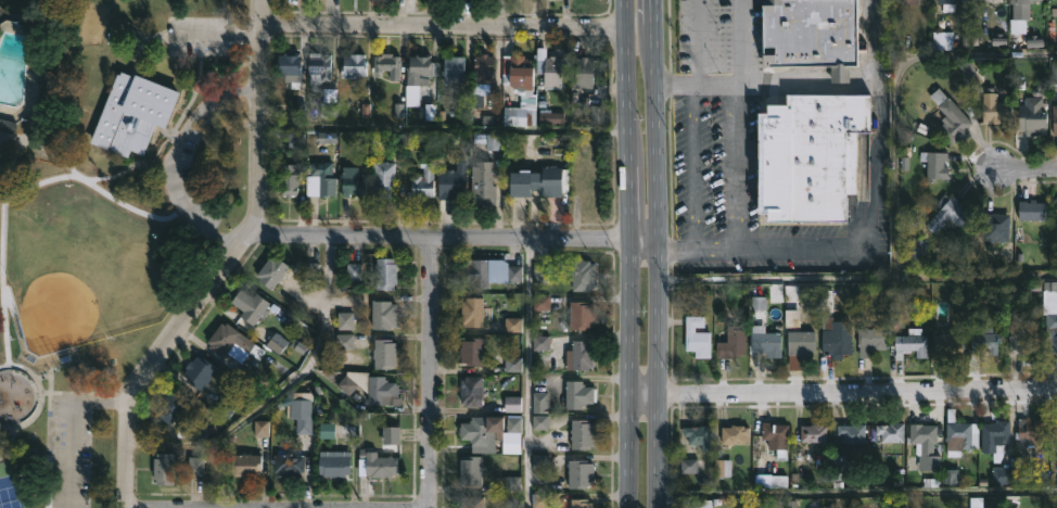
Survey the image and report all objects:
building: (990, 0)
building: (912, 1)
building: (951, 3)
building: (1021, 9)
road: (444, 25)
parking lot: (200, 35)
building: (813, 35)
road: (215, 36)
road: (737, 40)
road: (1030, 55)
building: (386, 64)
road: (697, 64)
building: (353, 65)
building: (319, 66)
building: (289, 67)
building: (483, 67)
building: (456, 68)
building: (549, 68)
road: (864, 69)
building: (583, 71)
building: (518, 73)
building: (418, 75)
road: (235, 76)
road: (841, 76)
road: (808, 77)
road: (53, 79)
road: (741, 80)
building: (996, 107)
building: (133, 113)
building: (548, 114)
building: (1034, 114)
building: (520, 115)
building: (952, 117)
road: (263, 118)
building: (7, 125)
building: (1054, 125)
road: (157, 129)
road: (445, 130)
building: (494, 142)
building: (811, 154)
parking lot: (175, 161)
building: (934, 164)
road: (735, 165)
road: (170, 166)
road: (1019, 166)
road: (692, 167)
building: (1, 173)
building: (290, 179)
building: (323, 179)
building: (384, 179)
building: (424, 180)
building: (352, 181)
building: (538, 181)
road: (90, 182)
building: (453, 182)
building: (483, 182)
building: (1032, 209)
building: (1056, 212)
park: (104, 213)
building: (950, 213)
road: (241, 218)
building: (996, 227)
road: (454, 236)
road: (865, 237)
building: (914, 249)
road: (2, 250)
road: (627, 253)
road: (658, 253)
building: (273, 271)
building: (386, 272)
building: (473, 272)
building: (356, 274)
park: (84, 275)
building: (583, 275)
road: (857, 281)
building: (250, 305)
building: (472, 313)
building: (384, 314)
building: (582, 316)
building: (1049, 320)
building: (741, 322)
building: (697, 336)
building: (1024, 338)
building: (839, 339)
building: (871, 340)
building: (984, 340)
building: (765, 341)
building: (734, 343)
building: (913, 343)
building: (802, 344)
building: (948, 344)
building: (237, 348)
building: (472, 352)
building: (384, 354)
building: (580, 355)
road: (157, 360)
road: (313, 363)
building: (199, 371)
road: (432, 371)
road: (530, 372)
road: (42, 374)
road: (49, 381)
building: (369, 386)
building: (472, 391)
road: (842, 392)
road: (86, 393)
road: (40, 394)
building: (577, 394)
building: (513, 405)
building: (173, 406)
building: (302, 415)
building: (543, 423)
road: (71, 424)
building: (515, 427)
building: (1056, 428)
building: (194, 430)
building: (892, 431)
building: (814, 432)
building: (582, 433)
building: (394, 434)
building: (853, 434)
building: (960, 434)
building: (996, 434)
building: (1032, 434)
building: (699, 435)
building: (736, 435)
building: (777, 435)
building: (476, 436)
road: (8, 440)
building: (926, 445)
road: (58, 449)
parking lot: (68, 452)
building: (289, 463)
building: (245, 465)
building: (335, 466)
building: (381, 466)
road: (5, 467)
building: (198, 467)
building: (690, 467)
building: (164, 469)
building: (472, 469)
building: (581, 473)
park: (14, 487)
road: (842, 499)
building: (473, 500)
building: (581, 503)
park: (0, 505)
road: (168, 507)

